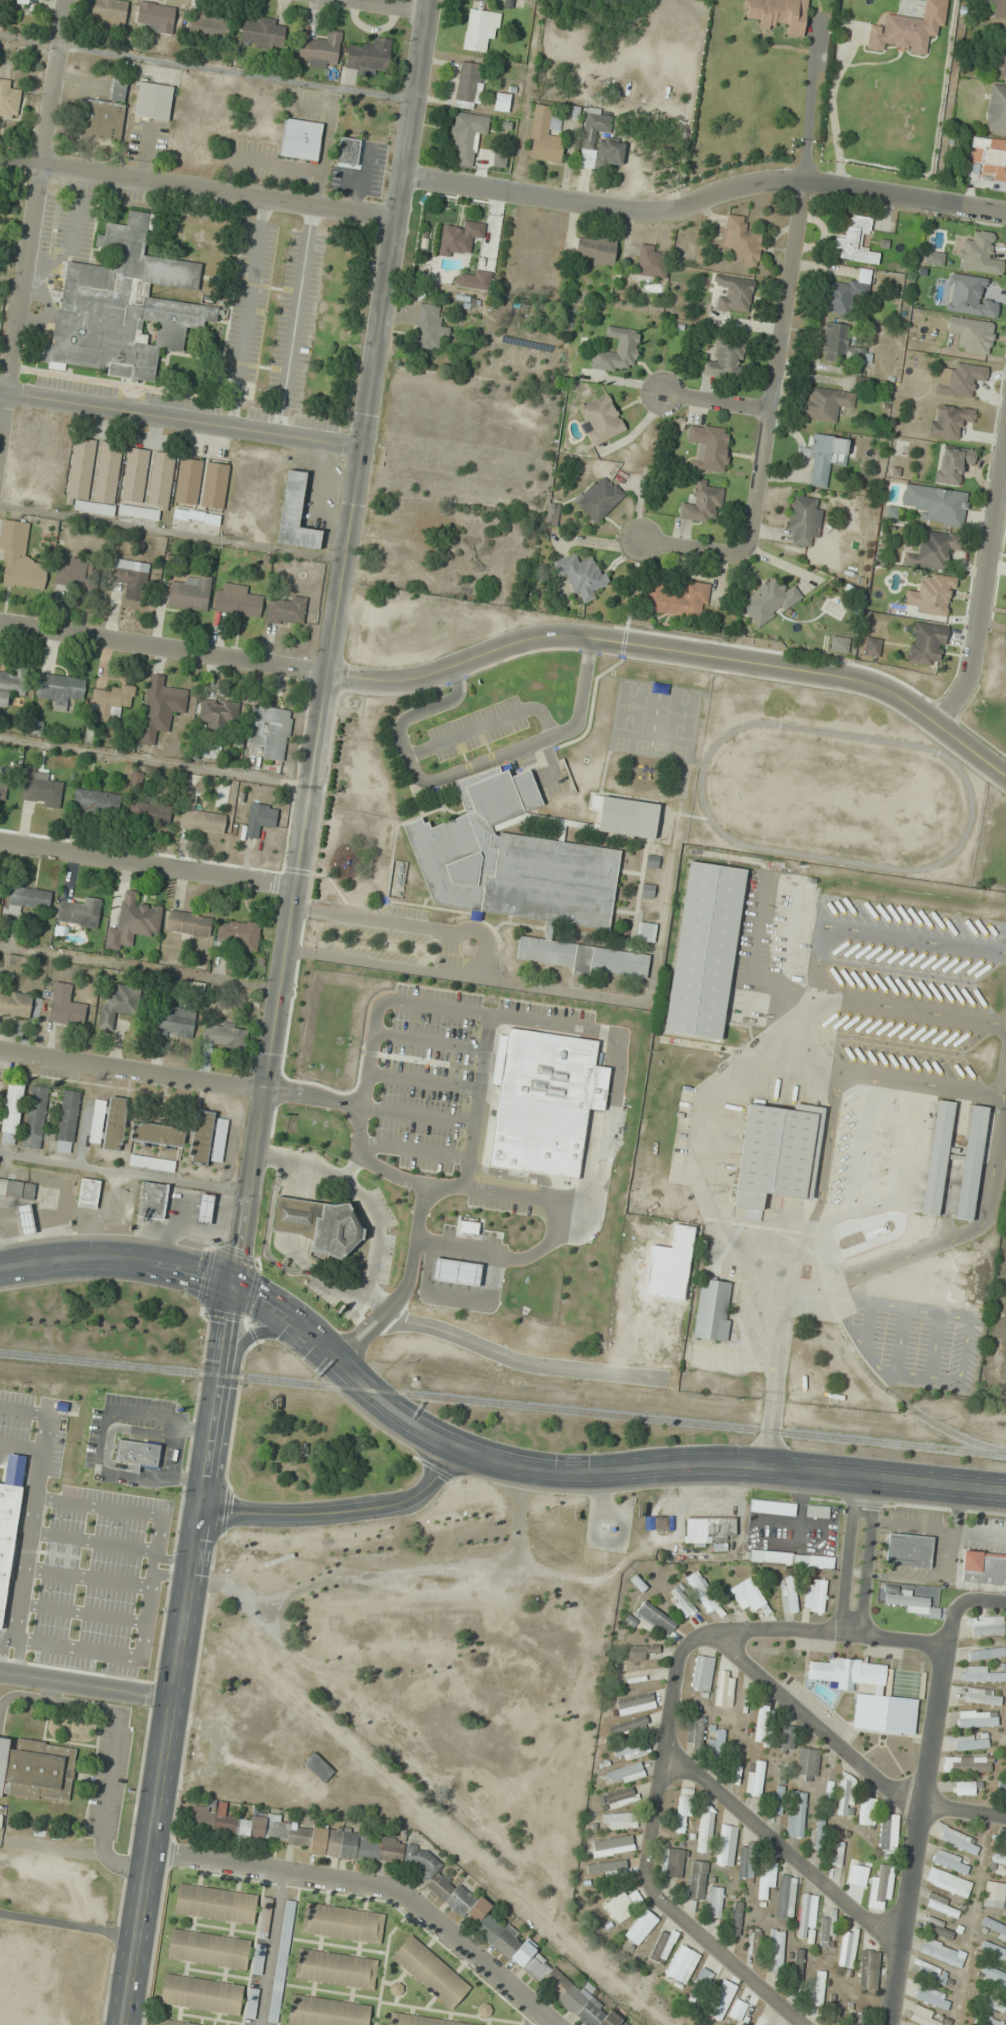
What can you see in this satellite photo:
building: (35, 0)
road: (384, 7)
building: (997, 9)
building: (105, 13)
building: (778, 14)
building: (155, 17)
building: (208, 25)
building: (480, 29)
building: (262, 32)
building: (902, 33)
building: (321, 49)
building: (369, 56)
building: (1000, 59)
building: (469, 85)
building: (8, 99)
building: (153, 101)
building: (502, 102)
building: (996, 110)
building: (105, 114)
building: (467, 135)
building: (545, 135)
building: (301, 139)
building: (599, 142)
building: (349, 150)
building: (990, 160)
road: (201, 188)
road: (706, 204)
road: (34, 219)
building: (458, 239)
building: (744, 240)
building: (856, 241)
building: (597, 249)
building: (979, 254)
building: (652, 261)
building: (846, 292)
building: (734, 293)
building: (123, 307)
building: (430, 327)
building: (835, 342)
building: (617, 350)
building: (861, 357)
building: (725, 360)
building: (959, 379)
building: (825, 403)
road: (718, 408)
building: (600, 419)
building: (949, 421)
road: (183, 422)
road: (771, 423)
building: (710, 446)
building: (824, 456)
building: (953, 463)
building: (80, 472)
building: (135, 474)
building: (161, 480)
building: (188, 481)
building: (214, 484)
building: (599, 498)
building: (704, 501)
building: (936, 504)
building: (138, 511)
building: (552, 513)
building: (296, 514)
building: (804, 520)
building: (934, 550)
building: (20, 558)
building: (77, 574)
building: (581, 575)
building: (131, 577)
building: (190, 593)
road: (983, 596)
building: (770, 598)
building: (679, 600)
building: (237, 601)
building: (286, 611)
building: (926, 642)
building: (839, 643)
road: (333, 644)
building: (872, 646)
road: (164, 649)
road: (677, 653)
building: (12, 683)
building: (61, 689)
building: (112, 700)
building: (162, 706)
building: (218, 713)
building: (270, 730)
building: (211, 750)
building: (4, 784)
building: (40, 788)
building: (222, 795)
building: (96, 801)
building: (150, 811)
building: (625, 815)
building: (260, 819)
building: (202, 821)
road: (150, 864)
building: (522, 873)
building: (0, 887)
building: (27, 899)
building: (80, 913)
building: (133, 921)
building: (190, 923)
building: (646, 931)
building: (239, 934)
building: (706, 952)
building: (15, 1002)
building: (119, 1003)
building: (66, 1005)
building: (175, 1023)
building: (224, 1035)
road: (132, 1077)
building: (542, 1102)
building: (12, 1112)
building: (36, 1116)
building: (67, 1121)
building: (109, 1123)
building: (158, 1134)
building: (209, 1139)
building: (771, 1155)
building: (937, 1157)
building: (152, 1162)
building: (971, 1162)
road: (124, 1174)
building: (17, 1188)
building: (89, 1192)
building: (150, 1201)
building: (203, 1209)
building: (26, 1219)
building: (319, 1225)
building: (468, 1227)
road: (118, 1260)
building: (456, 1272)
traffic signals: (233, 1289)
building: (713, 1310)
road: (257, 1332)
railway: (503, 1402)
building: (138, 1453)
road: (593, 1471)
road: (342, 1511)
building: (817, 1511)
building: (662, 1523)
building: (707, 1529)
building: (8, 1537)
building: (909, 1550)
road: (844, 1555)
building: (777, 1557)
road: (865, 1557)
building: (821, 1559)
building: (984, 1567)
building: (699, 1585)
building: (748, 1593)
building: (788, 1594)
building: (815, 1596)
building: (906, 1601)
building: (681, 1602)
road: (960, 1602)
building: (655, 1618)
building: (985, 1626)
road: (791, 1631)
road: (902, 1640)
building: (640, 1652)
building: (986, 1654)
road: (178, 1657)
building: (702, 1672)
building: (979, 1674)
building: (636, 1675)
road: (86, 1685)
building: (725, 1689)
building: (869, 1696)
building: (982, 1696)
building: (635, 1703)
building: (977, 1719)
building: (761, 1724)
building: (630, 1726)
building: (695, 1731)
building: (787, 1738)
building: (970, 1742)
building: (715, 1743)
building: (630, 1751)
road: (847, 1752)
building: (807, 1764)
building: (966, 1764)
building: (318, 1768)
building: (36, 1769)
building: (626, 1774)
building: (754, 1778)
building: (1002, 1784)
building: (966, 1788)
building: (844, 1794)
building: (778, 1795)
building: (618, 1798)
building: (683, 1809)
building: (866, 1811)
building: (796, 1814)
building: (210, 1819)
building: (619, 1820)
building: (705, 1829)
building: (817, 1832)
road: (916, 1835)
building: (888, 1836)
building: (1001, 1837)
building: (325, 1840)
building: (959, 1841)
building: (726, 1845)
building: (612, 1846)
road: (646, 1846)
road: (780, 1847)
building: (837, 1854)
building: (672, 1862)
building: (950, 1862)
building: (1000, 1863)
building: (607, 1867)
building: (745, 1867)
building: (766, 1878)
building: (696, 1880)
building: (884, 1883)
building: (952, 1884)
road: (375, 1885)
building: (993, 1894)
building: (785, 1897)
building: (714, 1902)
building: (214, 1903)
building: (620, 1907)
building: (943, 1908)
building: (805, 1916)
building: (264, 1917)
building: (736, 1919)
building: (340, 1922)
building: (641, 1926)
building: (938, 1927)
building: (993, 1927)
building: (826, 1929)
building: (511, 1943)
building: (663, 1945)
building: (753, 1946)
road: (269, 1948)
building: (847, 1948)
building: (208, 1949)
building: (776, 1951)
building: (941, 1952)
building: (258, 1959)
building: (281, 1961)
building: (681, 1965)
building: (797, 1967)
building: (335, 1968)
building: (868, 1972)
building: (429, 1973)
building: (931, 1973)
building: (993, 1977)
building: (701, 1983)
building: (817, 1991)
building: (201, 1994)
building: (932, 1997)
building: (721, 2000)
building: (251, 2003)
building: (995, 2004)
building: (737, 2009)
building: (323, 2012)
building: (922, 2016)
building: (418, 2020)
road: (545, 2022)
building: (991, 2022)
building: (170, 2023)
building: (758, 2023)

